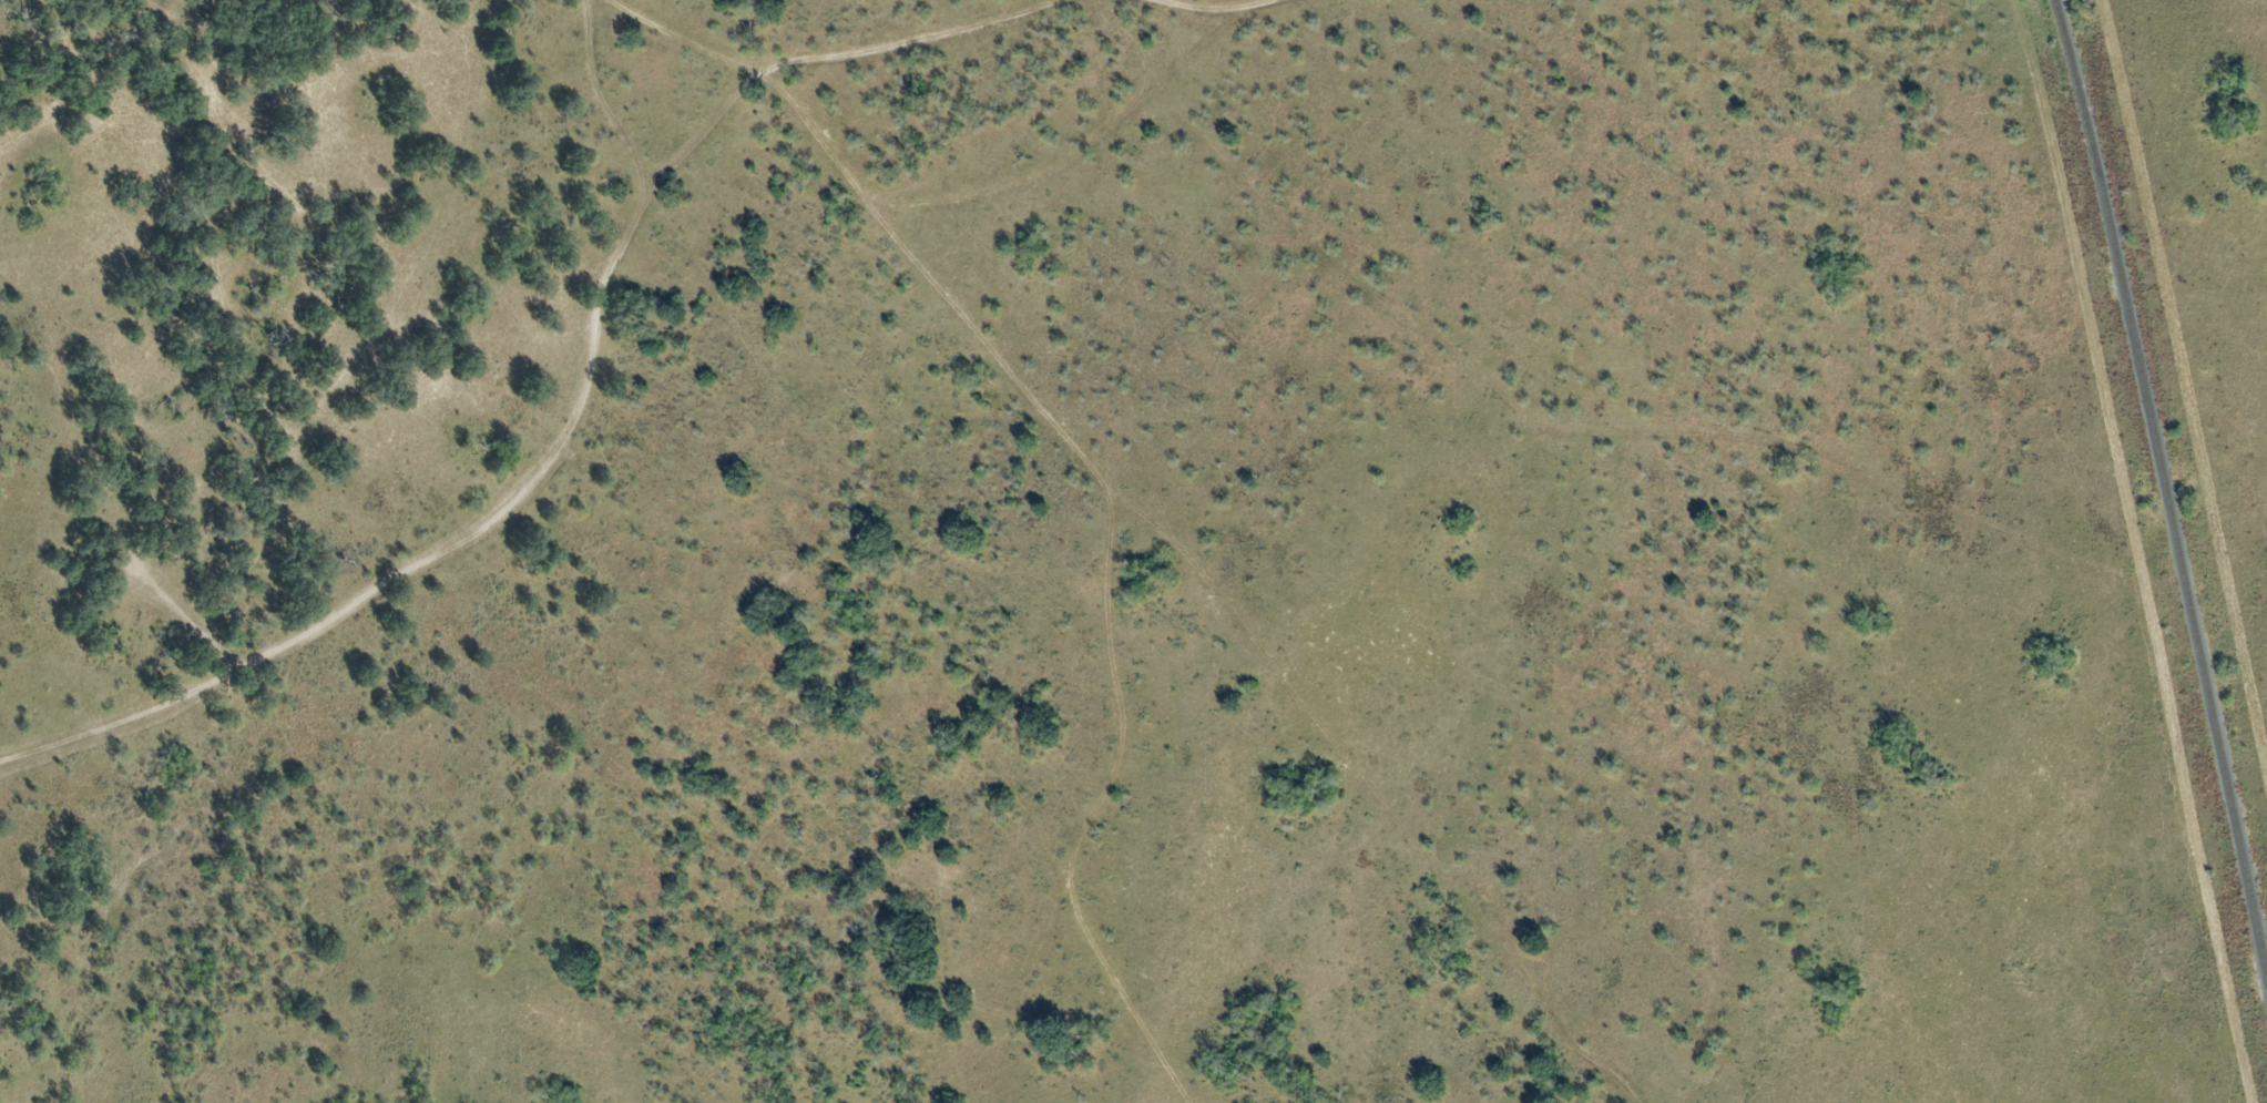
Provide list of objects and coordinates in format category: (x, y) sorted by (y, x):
railway: (2164, 488)

